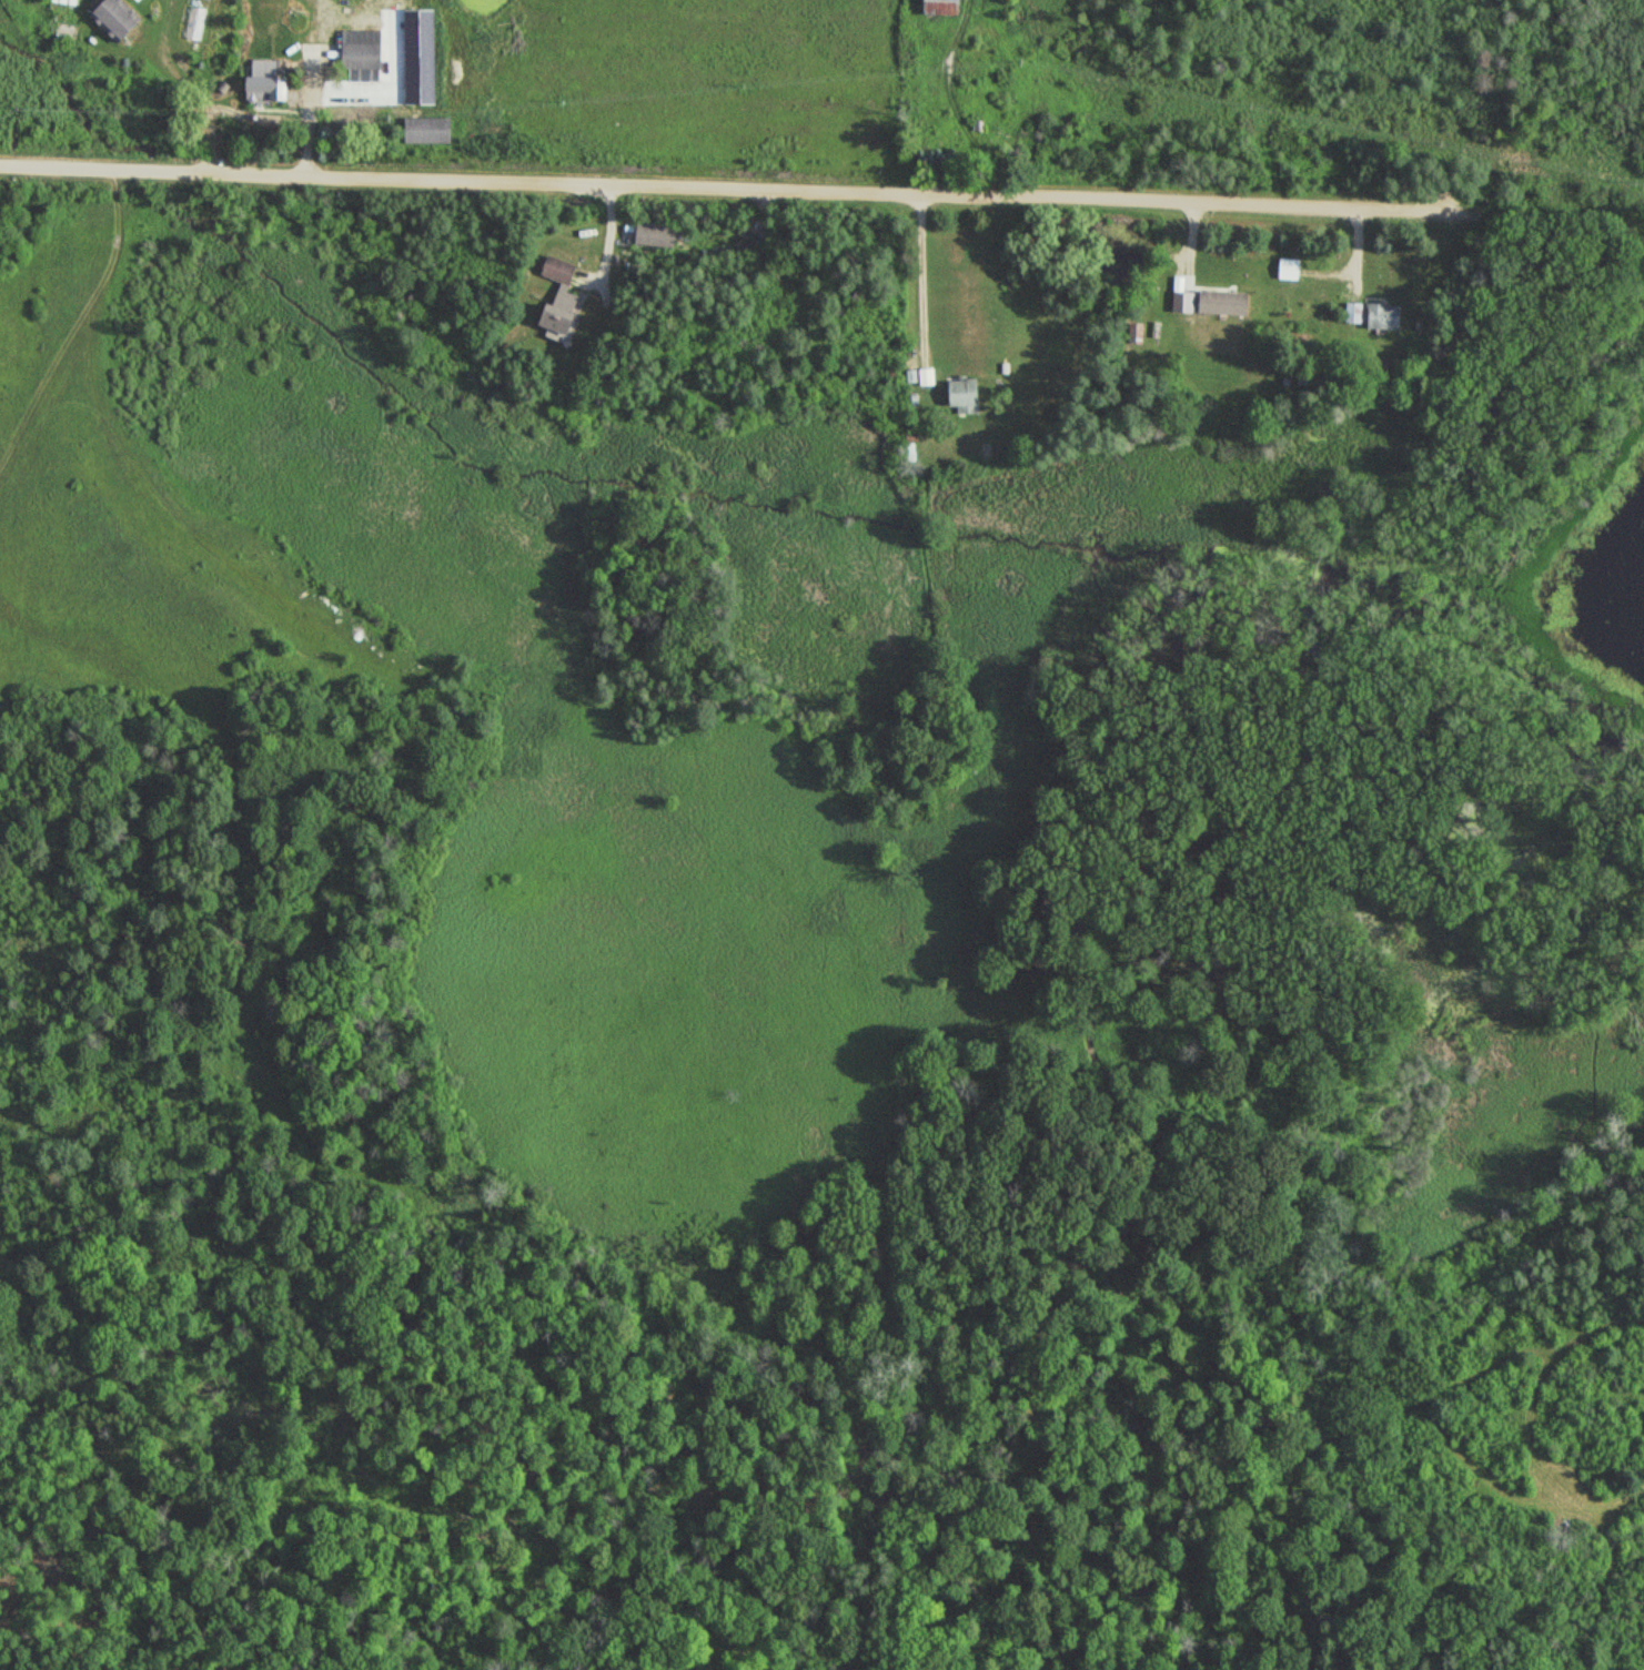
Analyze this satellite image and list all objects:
building: (67, 2)
building: (121, 20)
building: (365, 48)
building: (272, 87)
building: (432, 130)
road: (758, 185)
building: (659, 234)
building: (564, 296)
building: (1382, 317)
building: (1137, 334)
building: (927, 376)
building: (968, 396)

